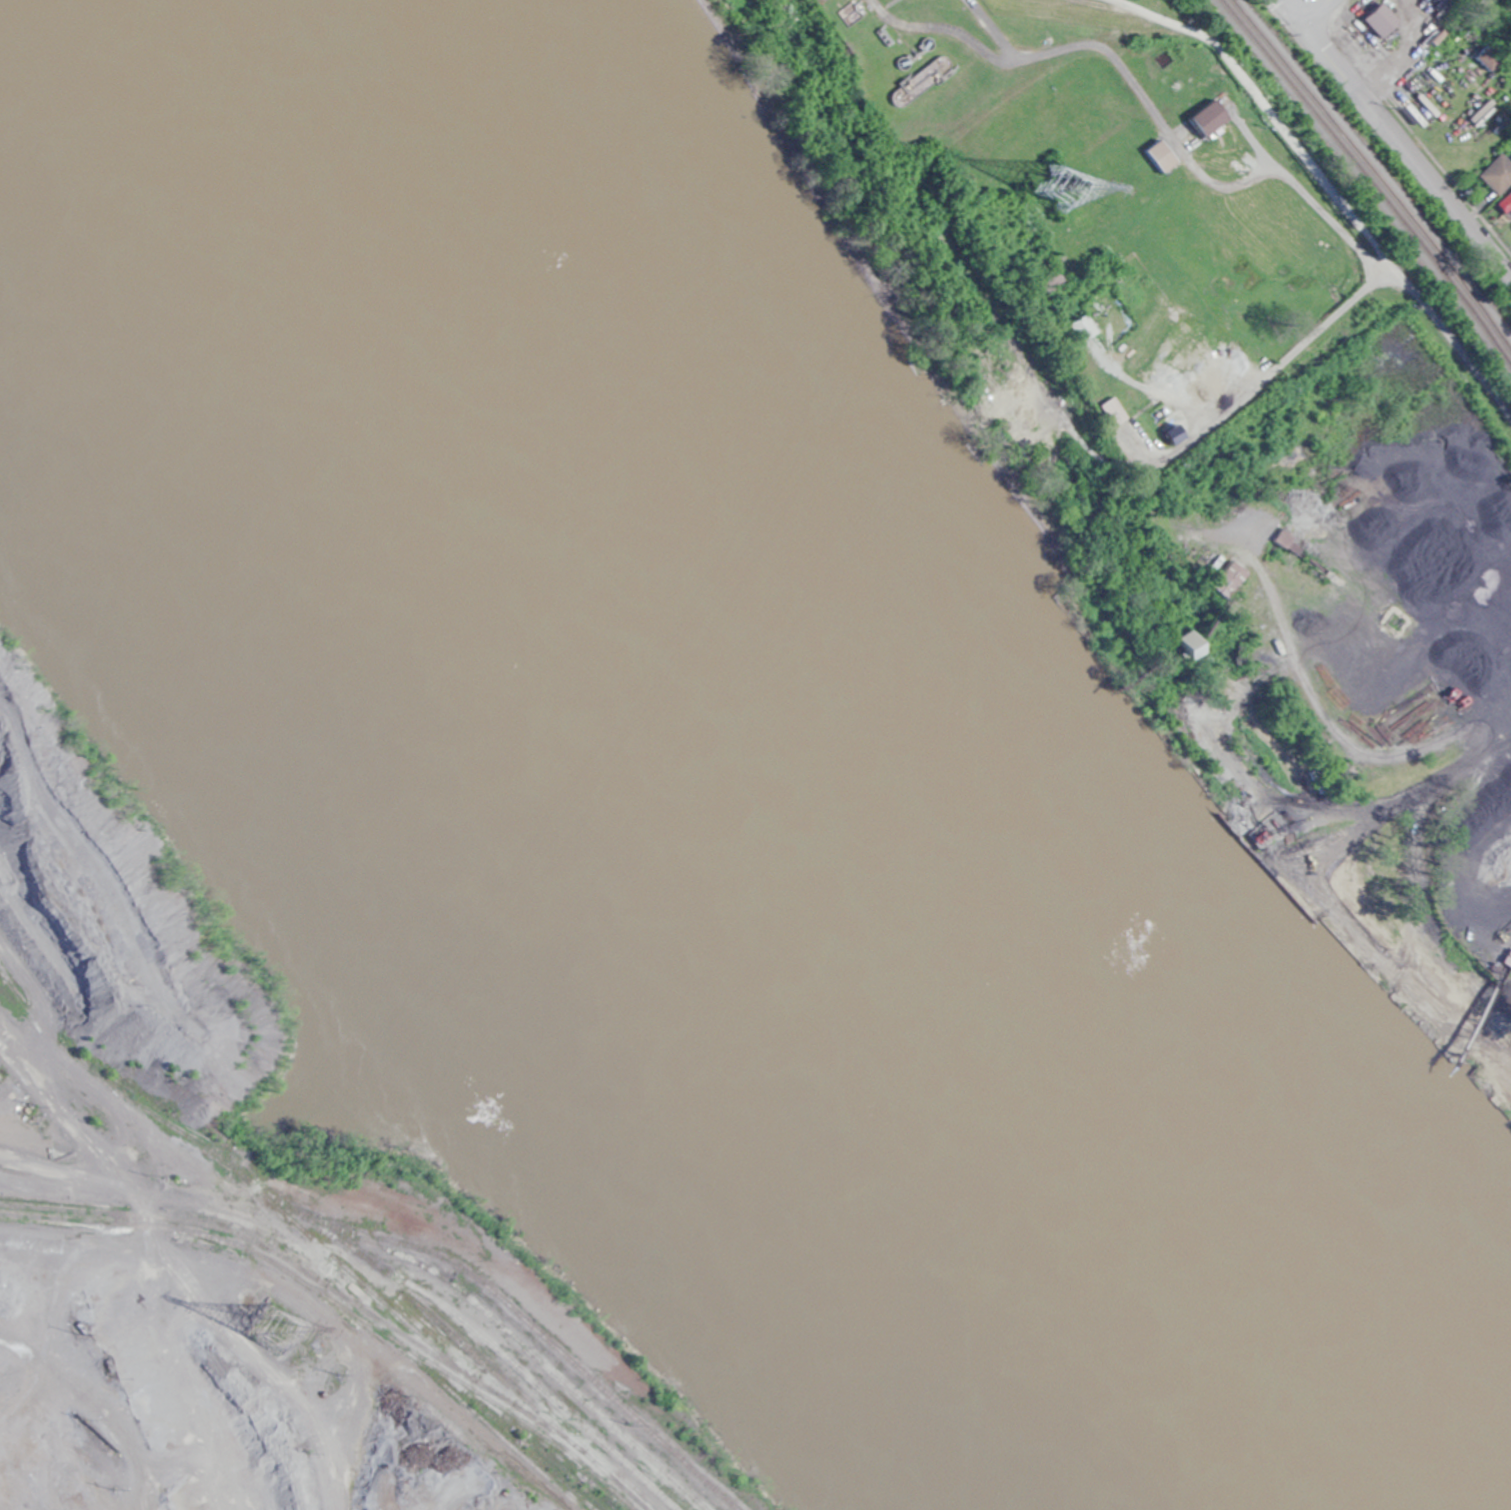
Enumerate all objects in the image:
road: (1293, 14)
road: (1320, 14)
building: (1366, 25)
road: (1407, 159)
railway: (1377, 171)
building: (1493, 175)
power tower: (1052, 180)
railway: (1369, 181)
road: (1328, 185)
building: (1510, 229)
building: (1075, 328)
building: (1115, 411)
building: (1231, 576)
building: (1192, 643)
river: (738, 789)
building: (1509, 972)
railway: (28, 1006)
railway: (29, 1014)
railway: (96, 1073)
railway: (250, 1180)
railway: (310, 1273)
railway: (372, 1287)
road: (203, 1290)
railway: (339, 1303)
railway: (524, 1318)
power tower: (270, 1322)
railway: (487, 1337)
railway: (466, 1344)
railway: (525, 1345)
railway: (485, 1423)
railway: (558, 1478)
railway: (569, 1478)
railway: (617, 1478)
railway: (614, 1505)

